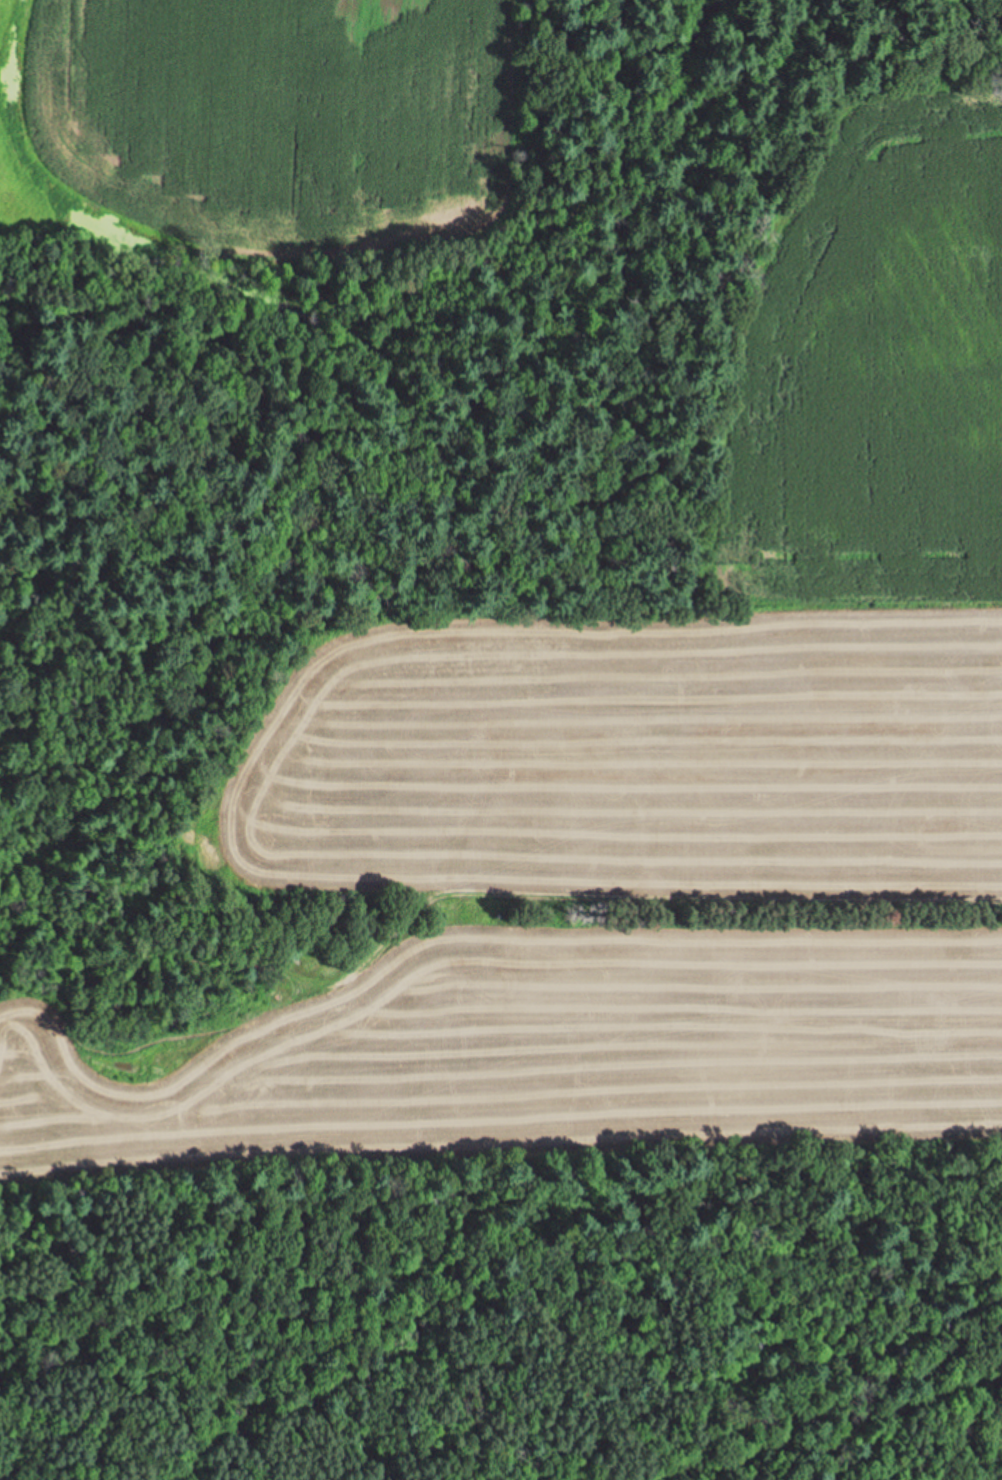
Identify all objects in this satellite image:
crop: (256, 120)

